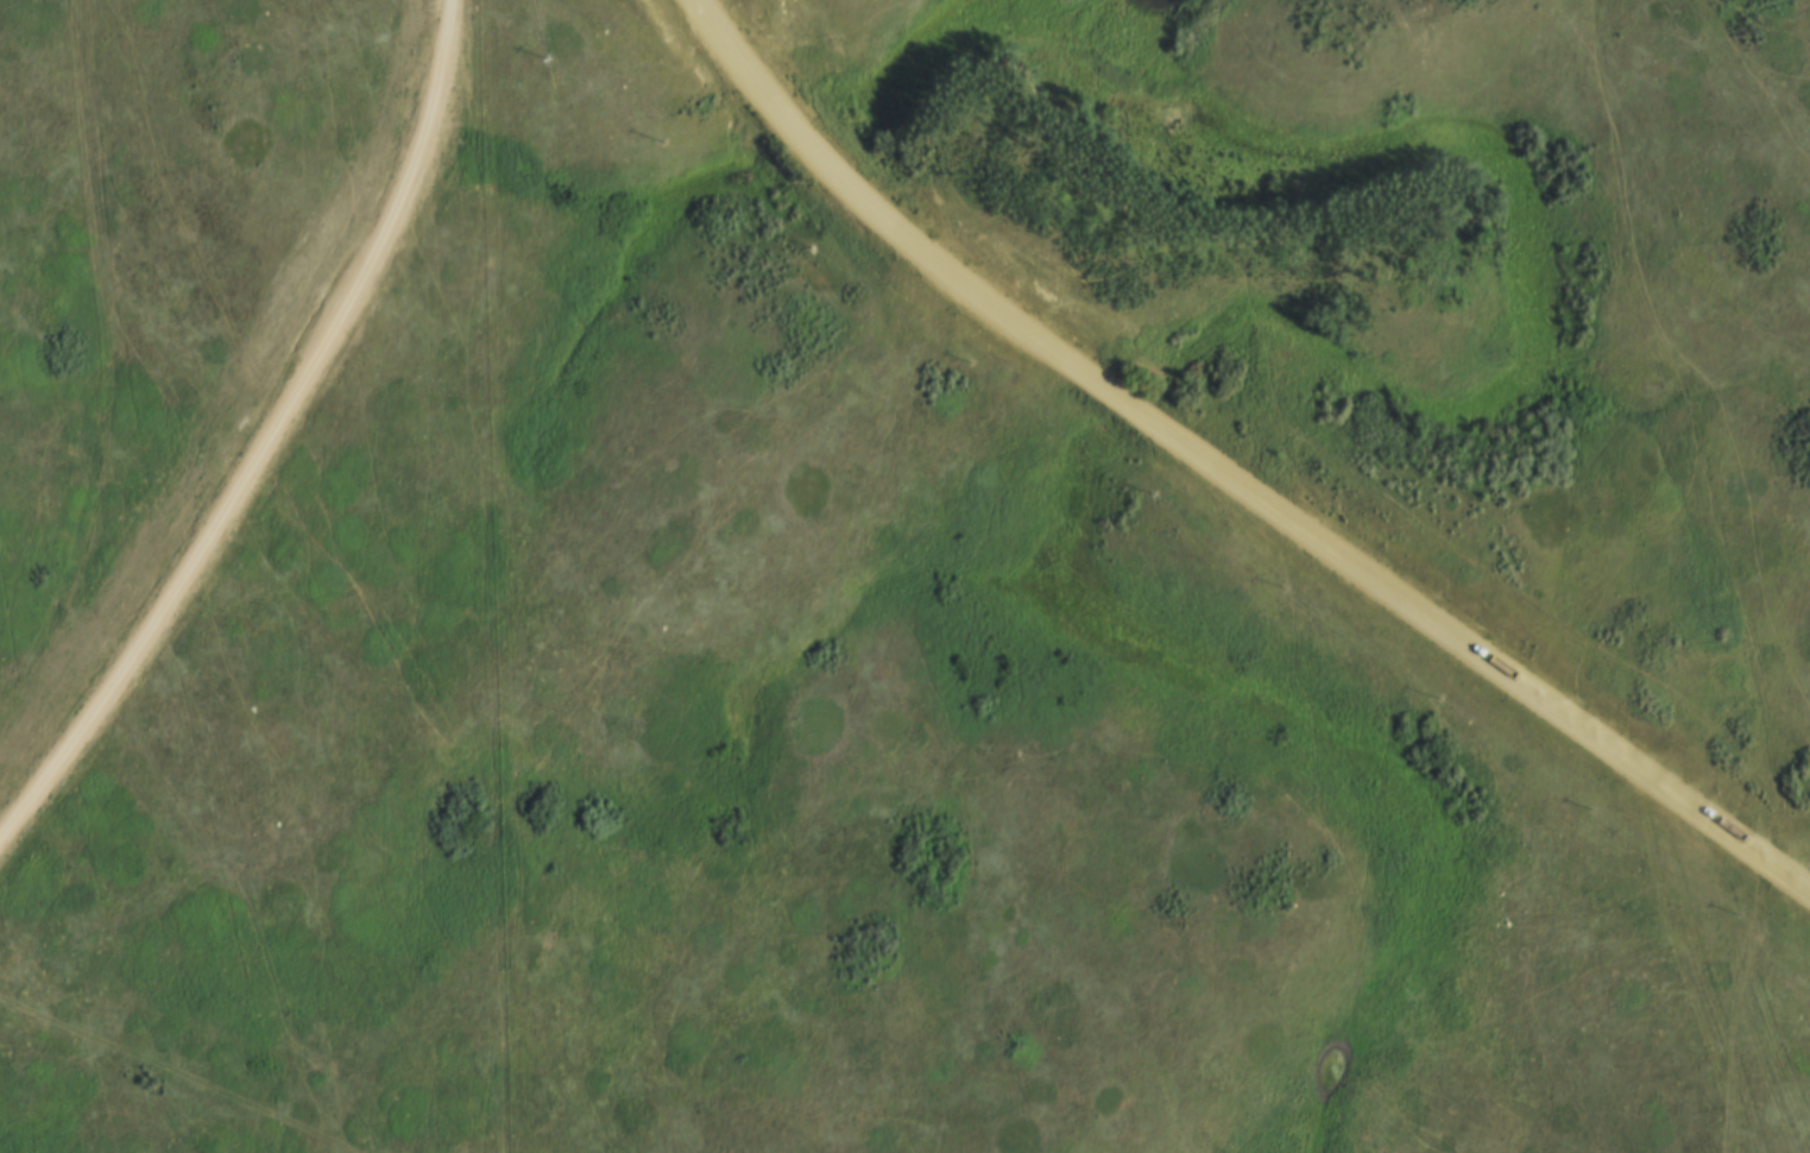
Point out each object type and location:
road: (264, 430)
road: (1226, 475)

